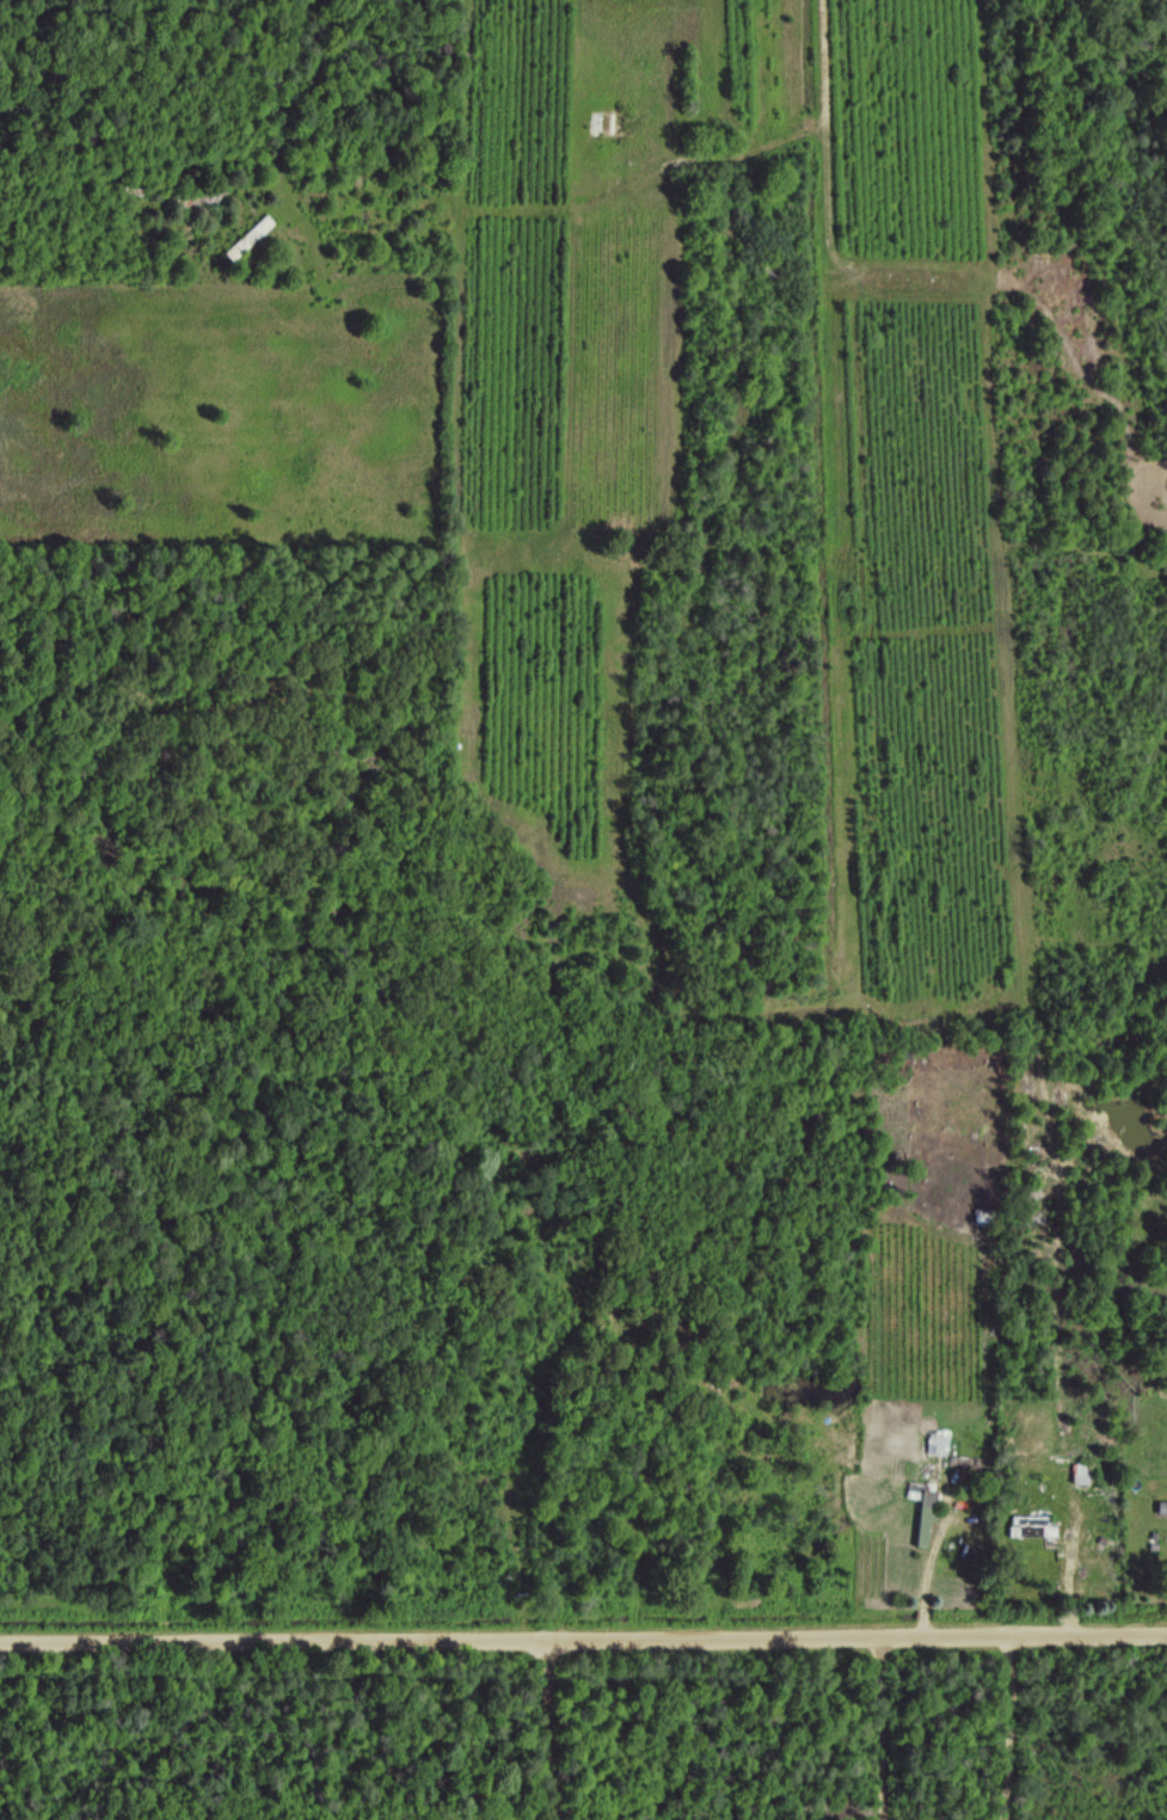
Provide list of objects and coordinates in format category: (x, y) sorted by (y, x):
building: (1077, 1474)
road: (583, 1637)
road: (1007, 1727)
road: (878, 1728)
road: (547, 1729)
road: (92, 1730)

